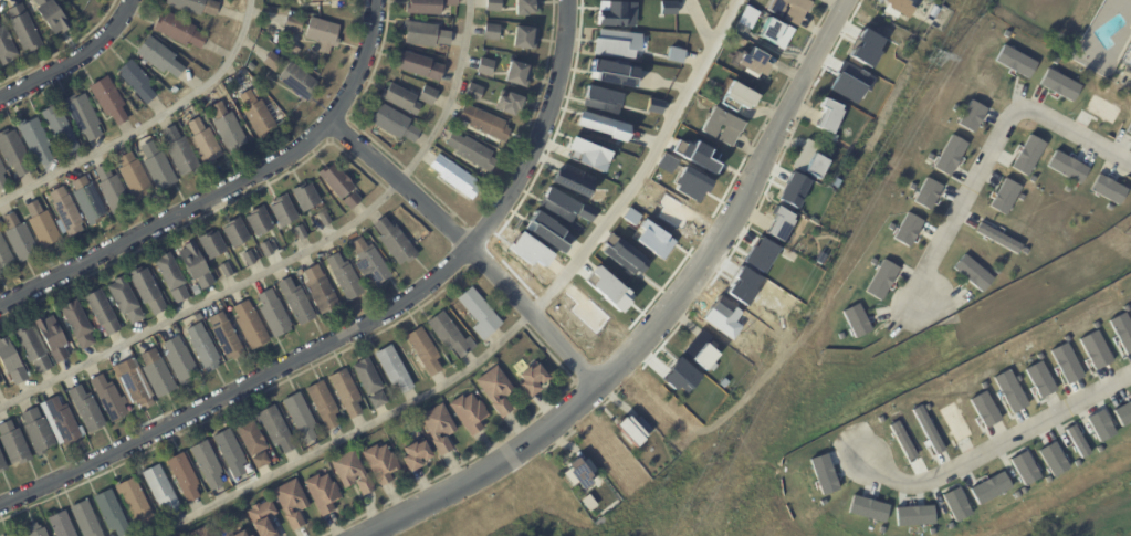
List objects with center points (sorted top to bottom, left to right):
building: (310, 0)
building: (323, 0)
building: (452, 3)
building: (493, 6)
building: (667, 6)
building: (193, 7)
building: (425, 7)
building: (526, 8)
building: (899, 8)
building: (790, 9)
building: (615, 13)
building: (51, 15)
building: (748, 18)
building: (293, 23)
road: (700, 24)
building: (23, 30)
building: (179, 31)
building: (322, 32)
building: (491, 32)
building: (775, 33)
building: (426, 34)
building: (524, 39)
building: (615, 42)
building: (741, 42)
building: (6, 48)
building: (673, 52)
power tower: (938, 54)
building: (158, 57)
building: (1127, 57)
road: (73, 59)
building: (755, 61)
building: (1013, 61)
building: (272, 62)
building: (419, 66)
building: (485, 67)
building: (1102, 72)
building: (610, 73)
building: (517, 75)
building: (136, 82)
building: (299, 82)
road: (1128, 83)
building: (1057, 84)
building: (170, 85)
building: (255, 92)
building: (474, 94)
building: (428, 96)
building: (741, 96)
building: (600, 98)
building: (400, 99)
building: (108, 101)
building: (653, 104)
building: (510, 105)
building: (1101, 108)
building: (272, 113)
building: (256, 114)
building: (829, 115)
building: (970, 115)
building: (83, 117)
road: (149, 124)
building: (392, 124)
building: (485, 124)
building: (600, 125)
building: (226, 127)
building: (1128, 127)
building: (59, 130)
building: (733, 130)
road: (1072, 133)
building: (34, 140)
building: (205, 144)
building: (472, 151)
building: (13, 153)
building: (180, 153)
building: (587, 154)
building: (1026, 154)
building: (949, 155)
building: (814, 161)
road: (648, 162)
building: (666, 162)
building: (1065, 166)
building: (158, 168)
building: (91, 175)
building: (2, 177)
building: (135, 177)
building: (455, 178)
building: (336, 179)
building: (570, 182)
building: (688, 183)
road: (228, 188)
building: (1107, 188)
building: (111, 190)
building: (925, 192)
building: (305, 196)
building: (1004, 196)
building: (352, 199)
building: (88, 201)
road: (956, 202)
building: (563, 206)
building: (283, 210)
building: (65, 212)
building: (629, 216)
building: (324, 217)
building: (259, 220)
building: (779, 224)
building: (41, 225)
building: (905, 228)
building: (235, 231)
building: (300, 231)
building: (546, 231)
building: (996, 235)
building: (19, 239)
building: (651, 239)
building: (395, 241)
building: (211, 243)
building: (266, 248)
road: (473, 248)
building: (817, 255)
building: (4, 256)
road: (293, 256)
building: (248, 258)
building: (370, 261)
building: (195, 264)
building: (226, 269)
building: (971, 271)
building: (171, 276)
building: (344, 276)
building: (880, 277)
building: (606, 283)
building: (321, 288)
building: (147, 290)
building: (125, 298)
building: (296, 301)
building: (102, 311)
building: (273, 313)
building: (480, 313)
road: (664, 319)
building: (855, 319)
building: (77, 323)
building: (251, 324)
road: (363, 326)
building: (1121, 332)
building: (450, 334)
building: (839, 334)
building: (226, 335)
building: (52, 337)
building: (32, 347)
building: (202, 347)
building: (1095, 349)
building: (425, 350)
building: (701, 353)
building: (179, 360)
building: (11, 361)
building: (1065, 362)
building: (394, 368)
building: (157, 372)
building: (367, 376)
building: (534, 378)
building: (1038, 379)
building: (135, 382)
building: (496, 389)
building: (1008, 390)
building: (346, 391)
building: (108, 398)
building: (377, 400)
building: (323, 404)
building: (86, 409)
building: (983, 409)
building: (470, 412)
building: (1122, 412)
building: (301, 416)
building: (62, 420)
building: (954, 421)
building: (1099, 424)
building: (440, 427)
building: (926, 428)
building: (276, 429)
building: (38, 430)
building: (633, 430)
road: (354, 435)
building: (251, 437)
building: (1075, 440)
building: (13, 443)
road: (998, 445)
building: (230, 452)
building: (417, 454)
building: (1050, 459)
building: (260, 460)
building: (380, 463)
building: (2, 464)
building: (208, 464)
building: (1023, 466)
building: (352, 472)
building: (582, 472)
building: (184, 475)
building: (989, 487)
building: (161, 490)
building: (323, 492)
building: (136, 501)
building: (292, 502)
building: (589, 502)
building: (954, 503)
building: (866, 507)
building: (112, 512)
building: (912, 515)
building: (262, 517)
building: (85, 519)
building: (61, 524)
building: (34, 529)
building: (202, 532)
building: (240, 534)
building: (3, 535)
building: (9, 535)
building: (251, 535)

